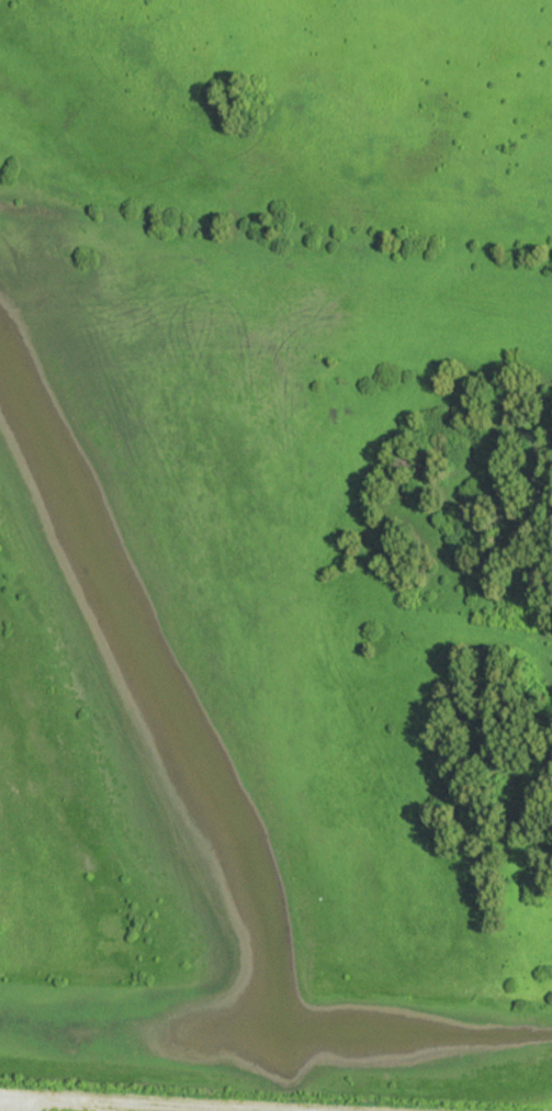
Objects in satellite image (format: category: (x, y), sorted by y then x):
road: (166, 1101)

